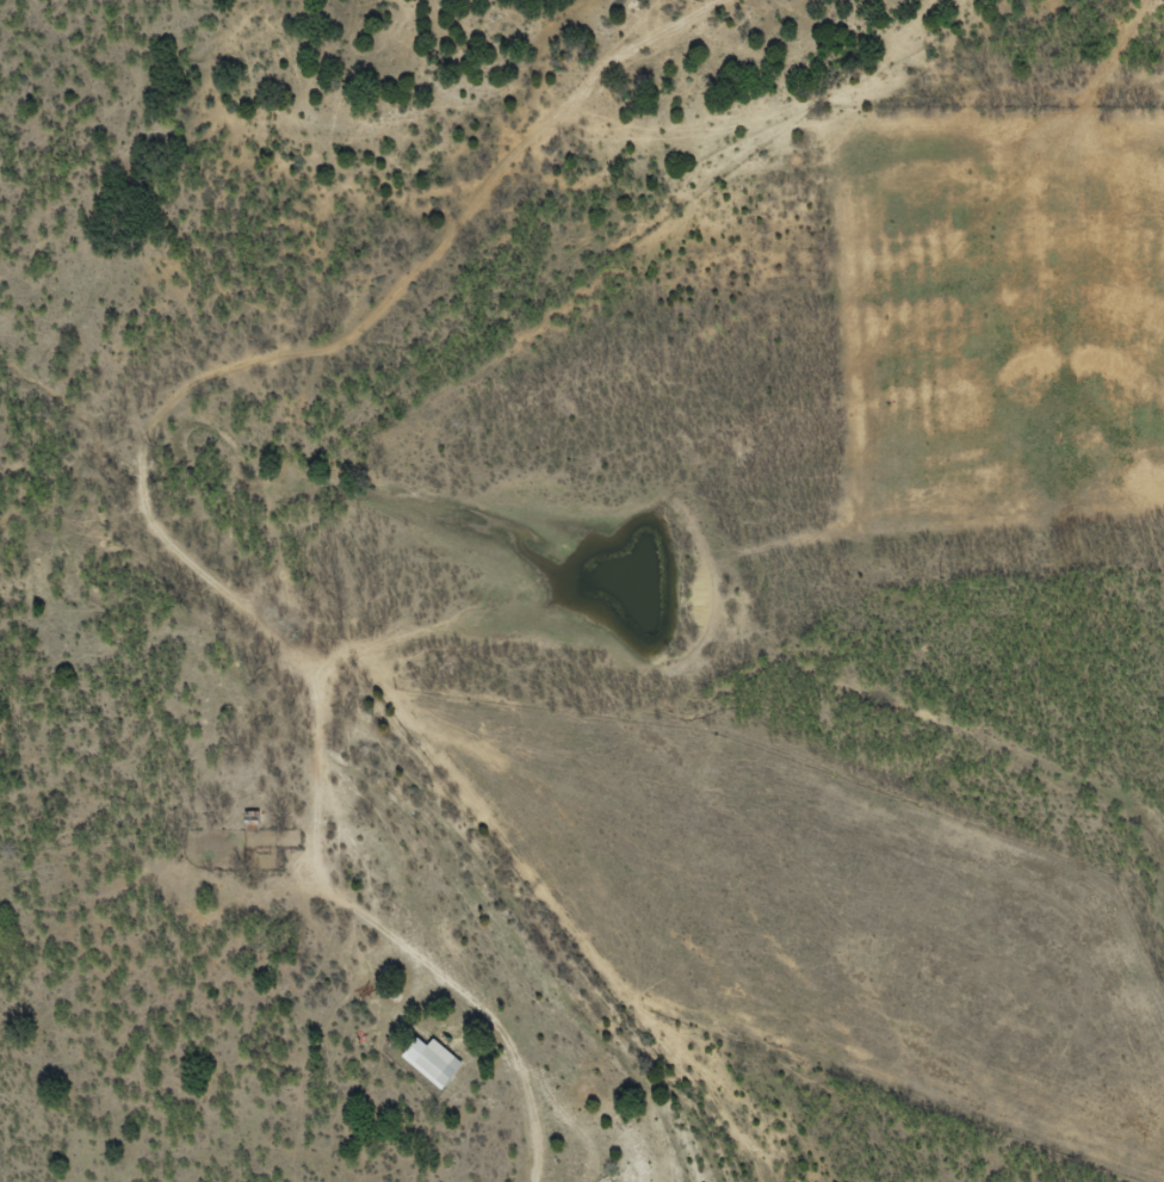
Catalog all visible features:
road: (285, 527)
building: (432, 1063)

